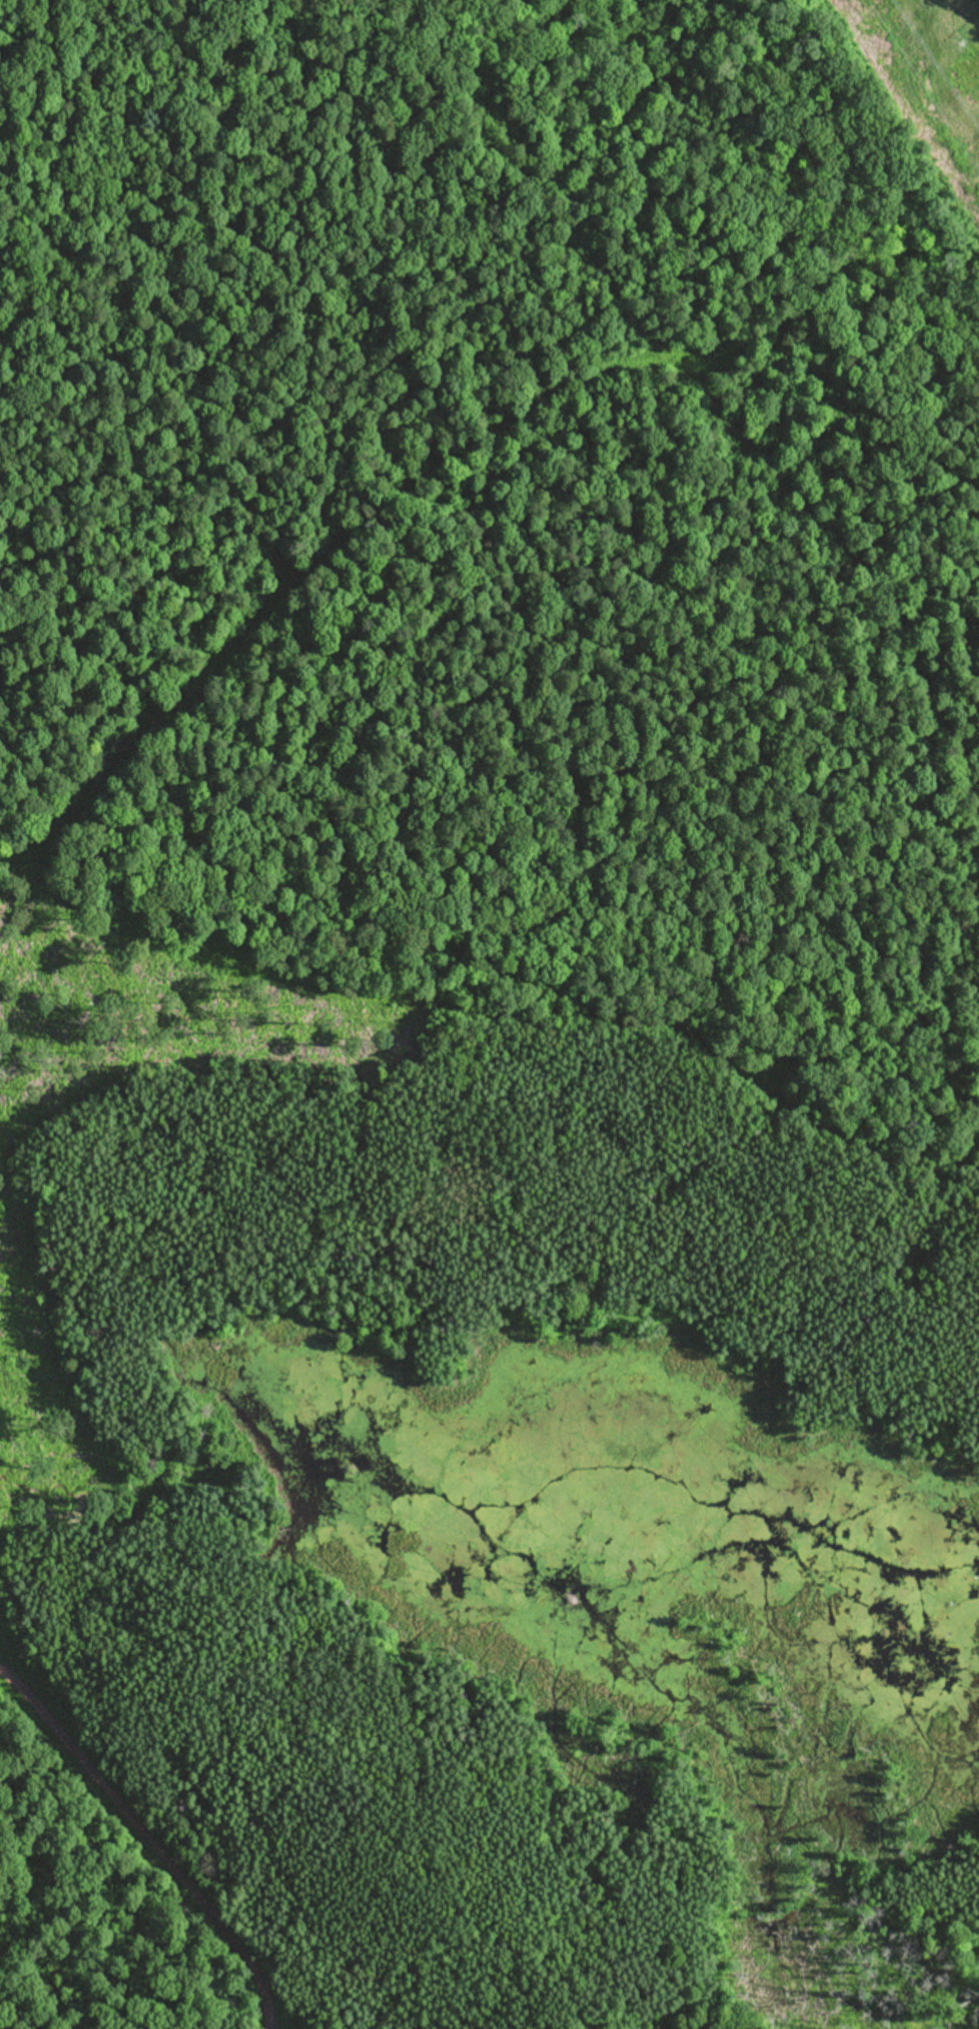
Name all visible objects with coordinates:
road: (149, 1838)

